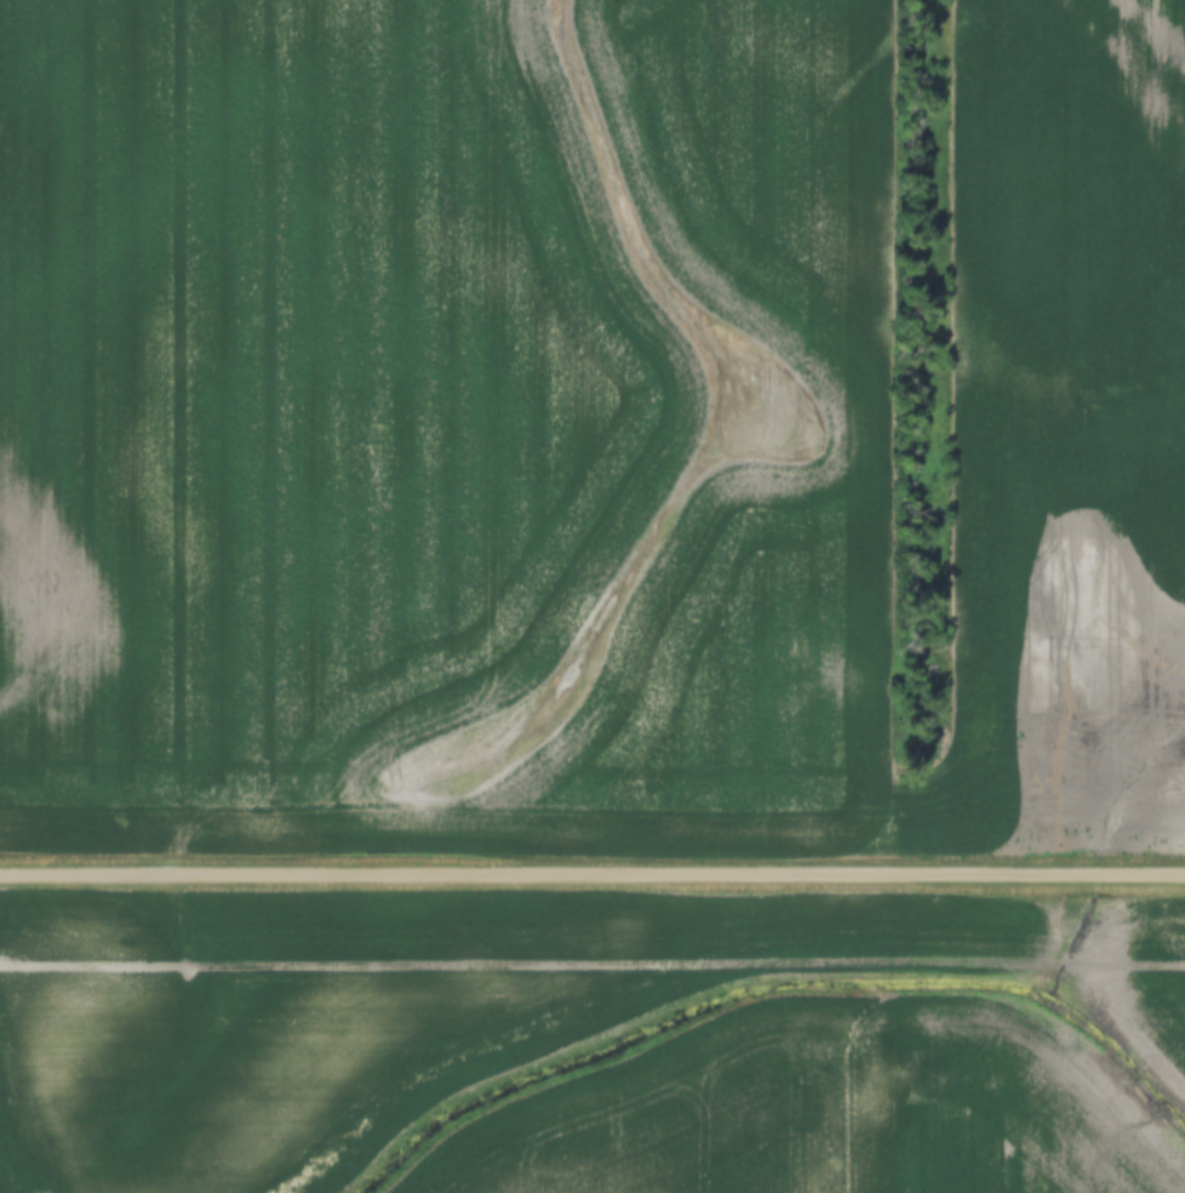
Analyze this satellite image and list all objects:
road: (592, 874)

